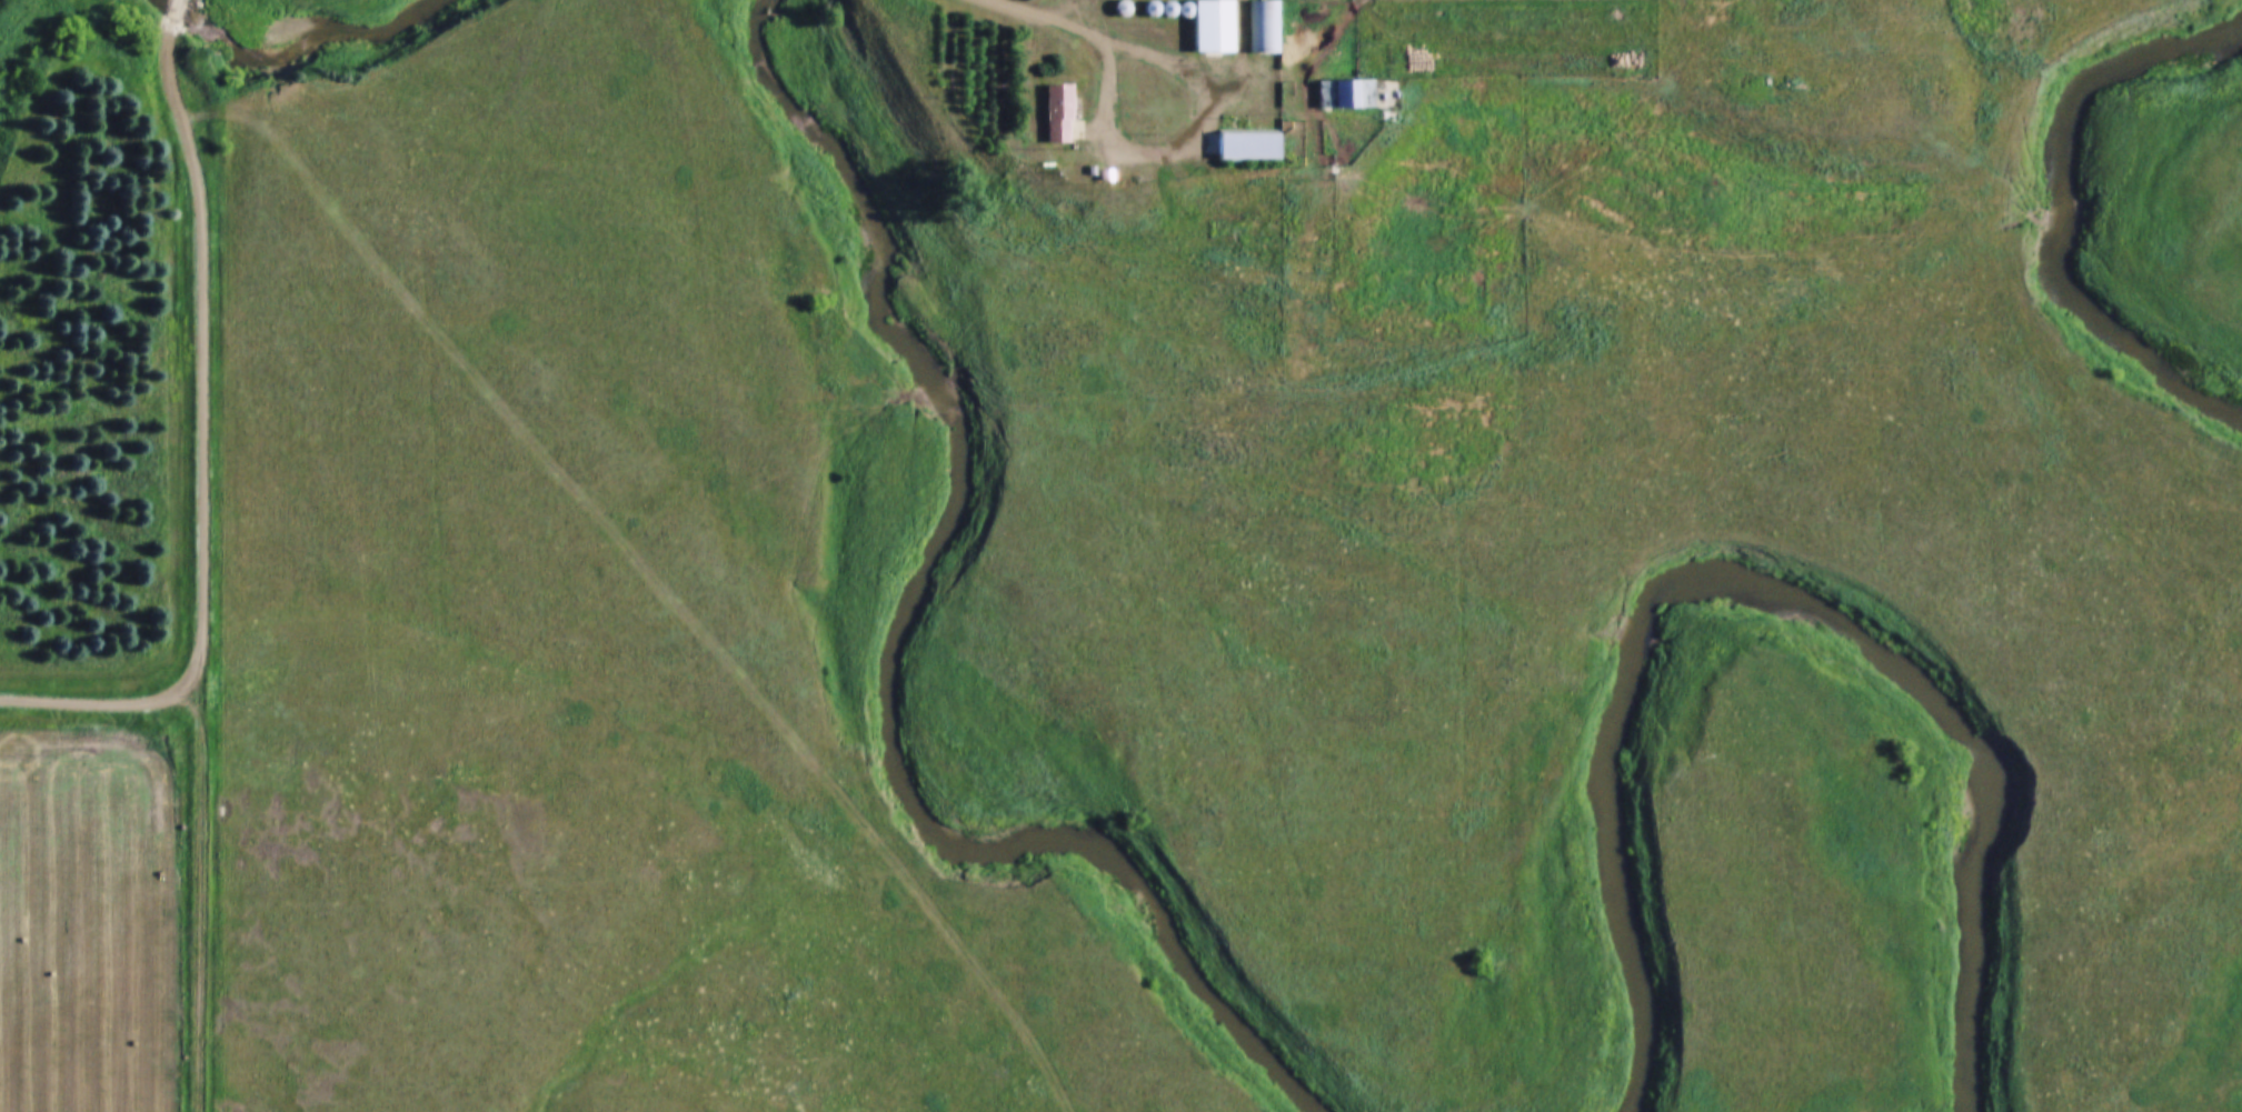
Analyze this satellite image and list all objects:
road: (176, 11)
road: (1076, 11)
road: (1110, 38)
building: (1325, 91)
building: (1037, 110)
road: (201, 349)
road: (102, 703)
road: (198, 896)

